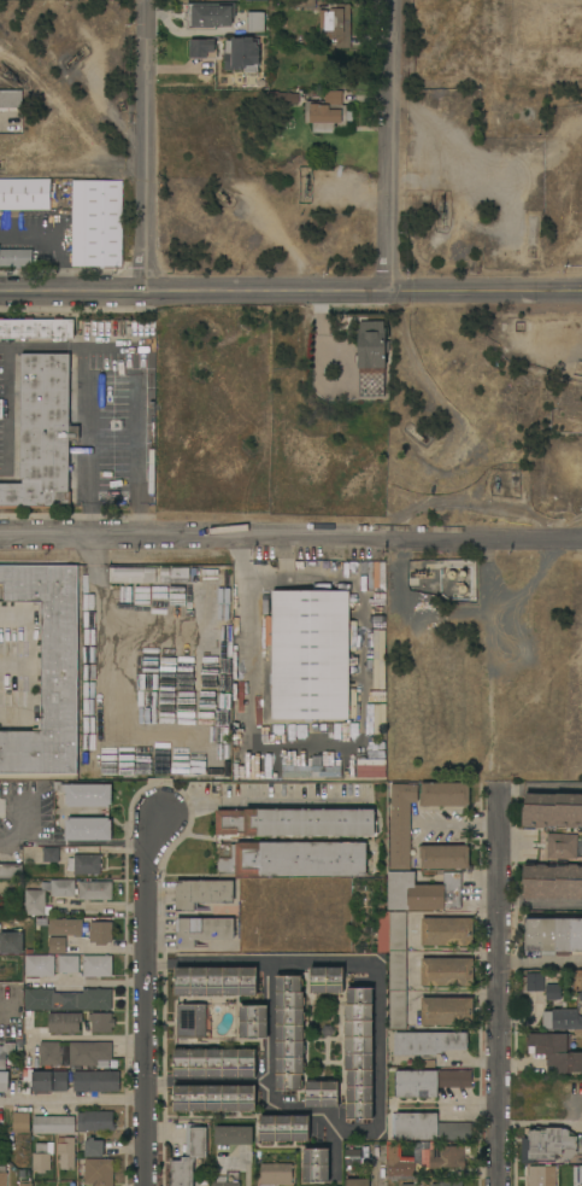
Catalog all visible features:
building: (305, 4)
building: (208, 16)
building: (254, 23)
building: (336, 24)
building: (202, 48)
building: (242, 54)
petroleum well: (74, 58)
petroleum well: (12, 77)
building: (11, 100)
building: (280, 100)
building: (328, 113)
road: (143, 145)
road: (386, 145)
petroleum well: (305, 185)
building: (25, 194)
petroleum well: (441, 211)
building: (96, 223)
road: (57, 234)
petroleum well: (530, 238)
building: (16, 258)
road: (290, 291)
building: (36, 328)
building: (371, 345)
building: (143, 373)
building: (0, 409)
building: (7, 410)
building: (143, 428)
petroleum well: (416, 433)
building: (43, 436)
petroleum well: (496, 485)
road: (290, 538)
building: (196, 572)
petroleum well: (421, 574)
building: (131, 576)
building: (165, 577)
building: (180, 577)
building: (382, 577)
building: (223, 589)
road: (33, 641)
building: (311, 655)
building: (378, 660)
building: (47, 672)
road: (31, 703)
building: (380, 719)
road: (337, 749)
building: (371, 769)
building: (254, 771)
building: (312, 772)
building: (553, 788)
building: (445, 794)
building: (86, 795)
road: (261, 806)
building: (552, 811)
building: (294, 823)
building: (401, 825)
road: (19, 828)
building: (88, 829)
building: (562, 846)
building: (51, 855)
building: (445, 857)
building: (295, 860)
building: (84, 865)
building: (11, 871)
building: (552, 881)
building: (63, 888)
building: (94, 890)
building: (423, 893)
building: (202, 894)
building: (35, 904)
road: (102, 907)
road: (443, 916)
building: (65, 928)
building: (202, 930)
building: (446, 931)
building: (101, 933)
building: (553, 936)
building: (11, 942)
building: (57, 946)
road: (111, 950)
road: (204, 962)
building: (69, 964)
building: (40, 966)
building: (98, 966)
building: (398, 971)
building: (447, 972)
building: (327, 980)
building: (216, 981)
road: (93, 982)
building: (535, 983)
road: (500, 987)
building: (553, 993)
building: (581, 994)
building: (40, 999)
building: (86, 1000)
road: (147, 1000)
building: (447, 1011)
building: (193, 1021)
building: (563, 1021)
building: (101, 1022)
building: (253, 1022)
building: (64, 1023)
building: (289, 1033)
road: (95, 1039)
building: (428, 1042)
building: (554, 1052)
building: (51, 1053)
building: (358, 1053)
building: (5, 1054)
building: (90, 1054)
building: (214, 1063)
building: (46, 1081)
building: (4, 1082)
building: (96, 1082)
building: (428, 1082)
building: (322, 1094)
building: (214, 1098)
road: (72, 1100)
road: (470, 1100)
road: (470, 1112)
building: (20, 1120)
road: (378, 1120)
building: (95, 1121)
building: (54, 1126)
building: (283, 1128)
building: (428, 1128)
building: (233, 1135)
building: (547, 1144)
building: (94, 1147)
building: (66, 1152)
building: (189, 1156)
building: (42, 1157)
building: (352, 1157)
building: (446, 1157)
building: (316, 1164)
building: (400, 1168)
road: (246, 1169)
building: (99, 1172)
building: (275, 1174)
building: (2, 1175)
building: (577, 1175)
building: (541, 1176)
building: (223, 1182)
building: (357, 1182)
building: (25, 1184)
building: (416, 1184)
building: (448, 1184)
building: (581, 1185)

